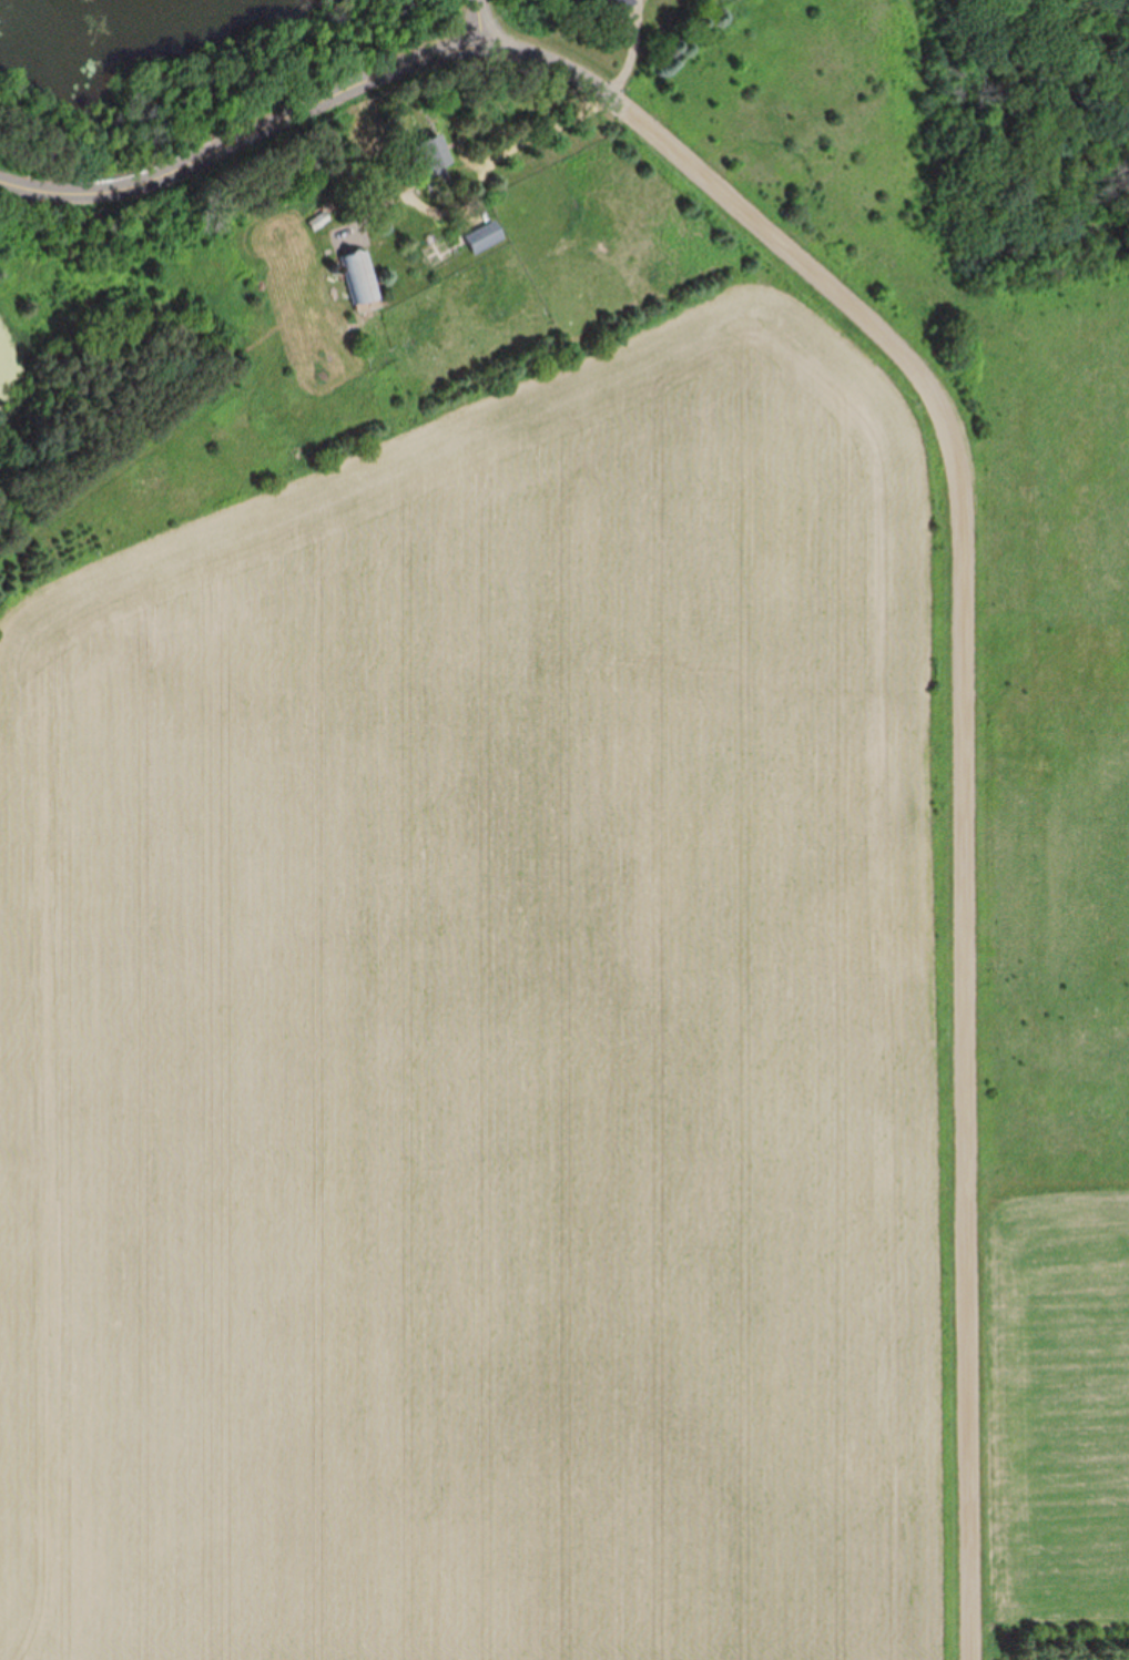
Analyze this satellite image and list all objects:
building: (614, 6)
road: (476, 14)
road: (542, 133)
road: (244, 138)
building: (431, 156)
building: (485, 236)
building: (360, 276)
road: (964, 730)
park: (1052, 822)

